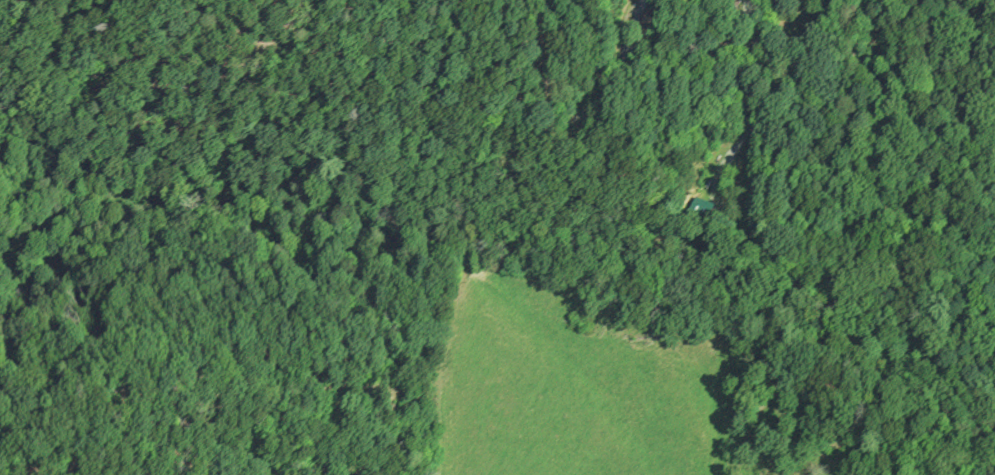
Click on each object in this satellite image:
building: (655, 24)
building: (704, 211)

